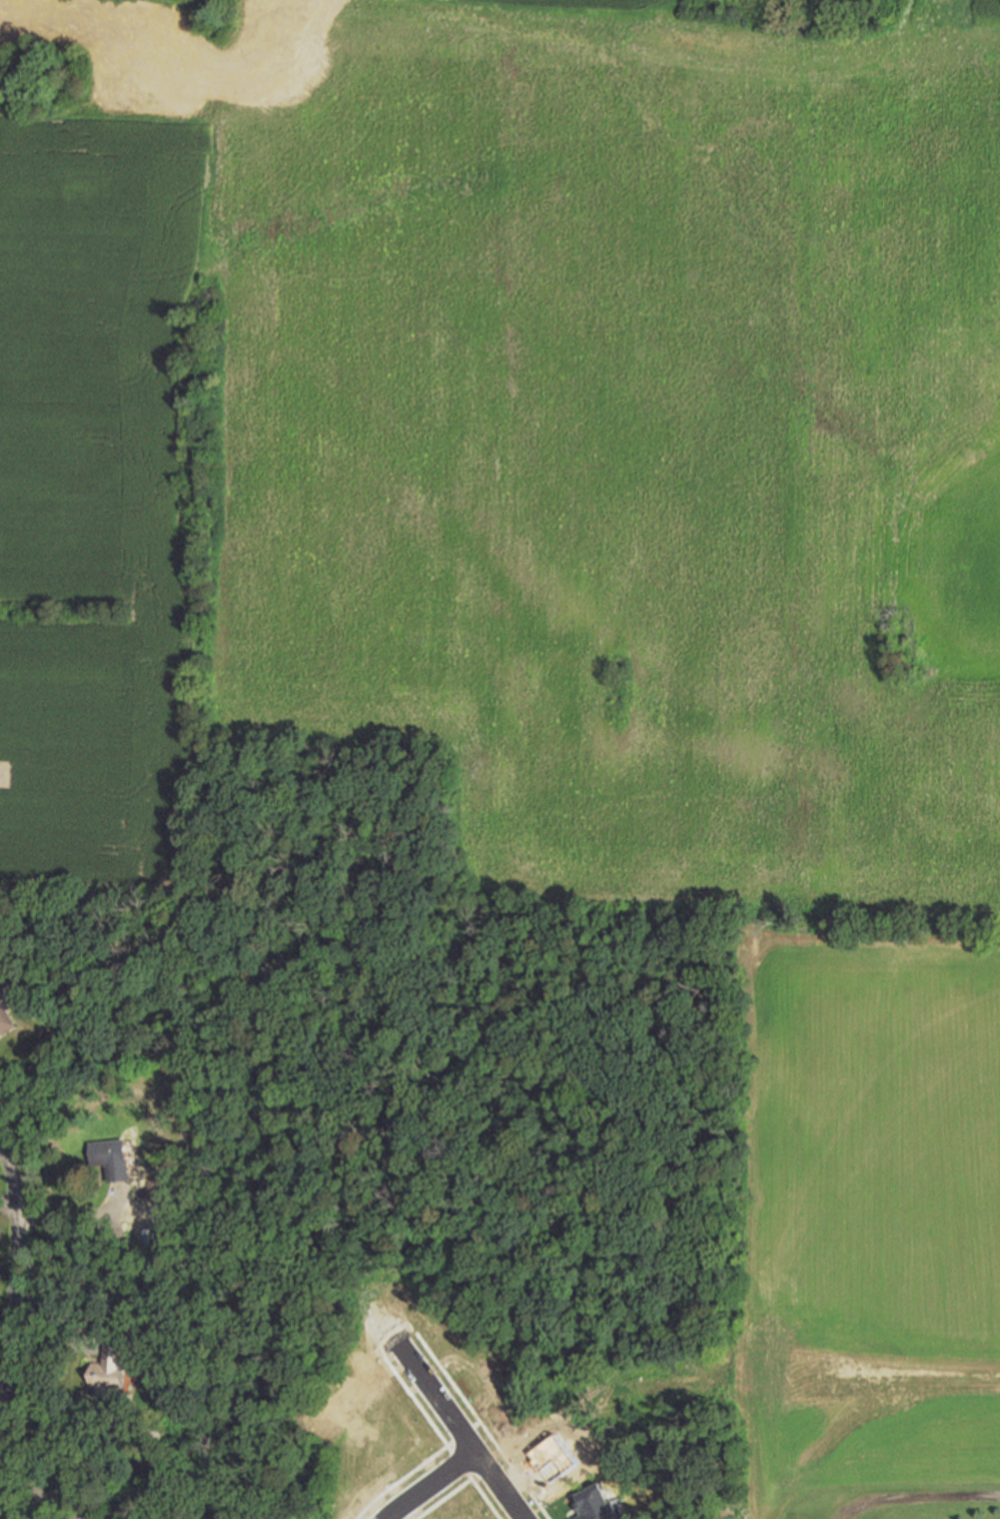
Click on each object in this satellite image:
crop: (502, 453)
building: (0, 971)
building: (5, 1014)
building: (112, 1157)
road: (8, 1199)
road: (74, 1217)
road: (13, 1287)
road: (57, 1310)
building: (157, 1324)
building: (110, 1366)
road: (455, 1423)
road: (481, 1424)
road: (438, 1441)
road: (403, 1474)
road: (426, 1482)
road: (442, 1499)
road: (917, 1500)
road: (360, 1511)

